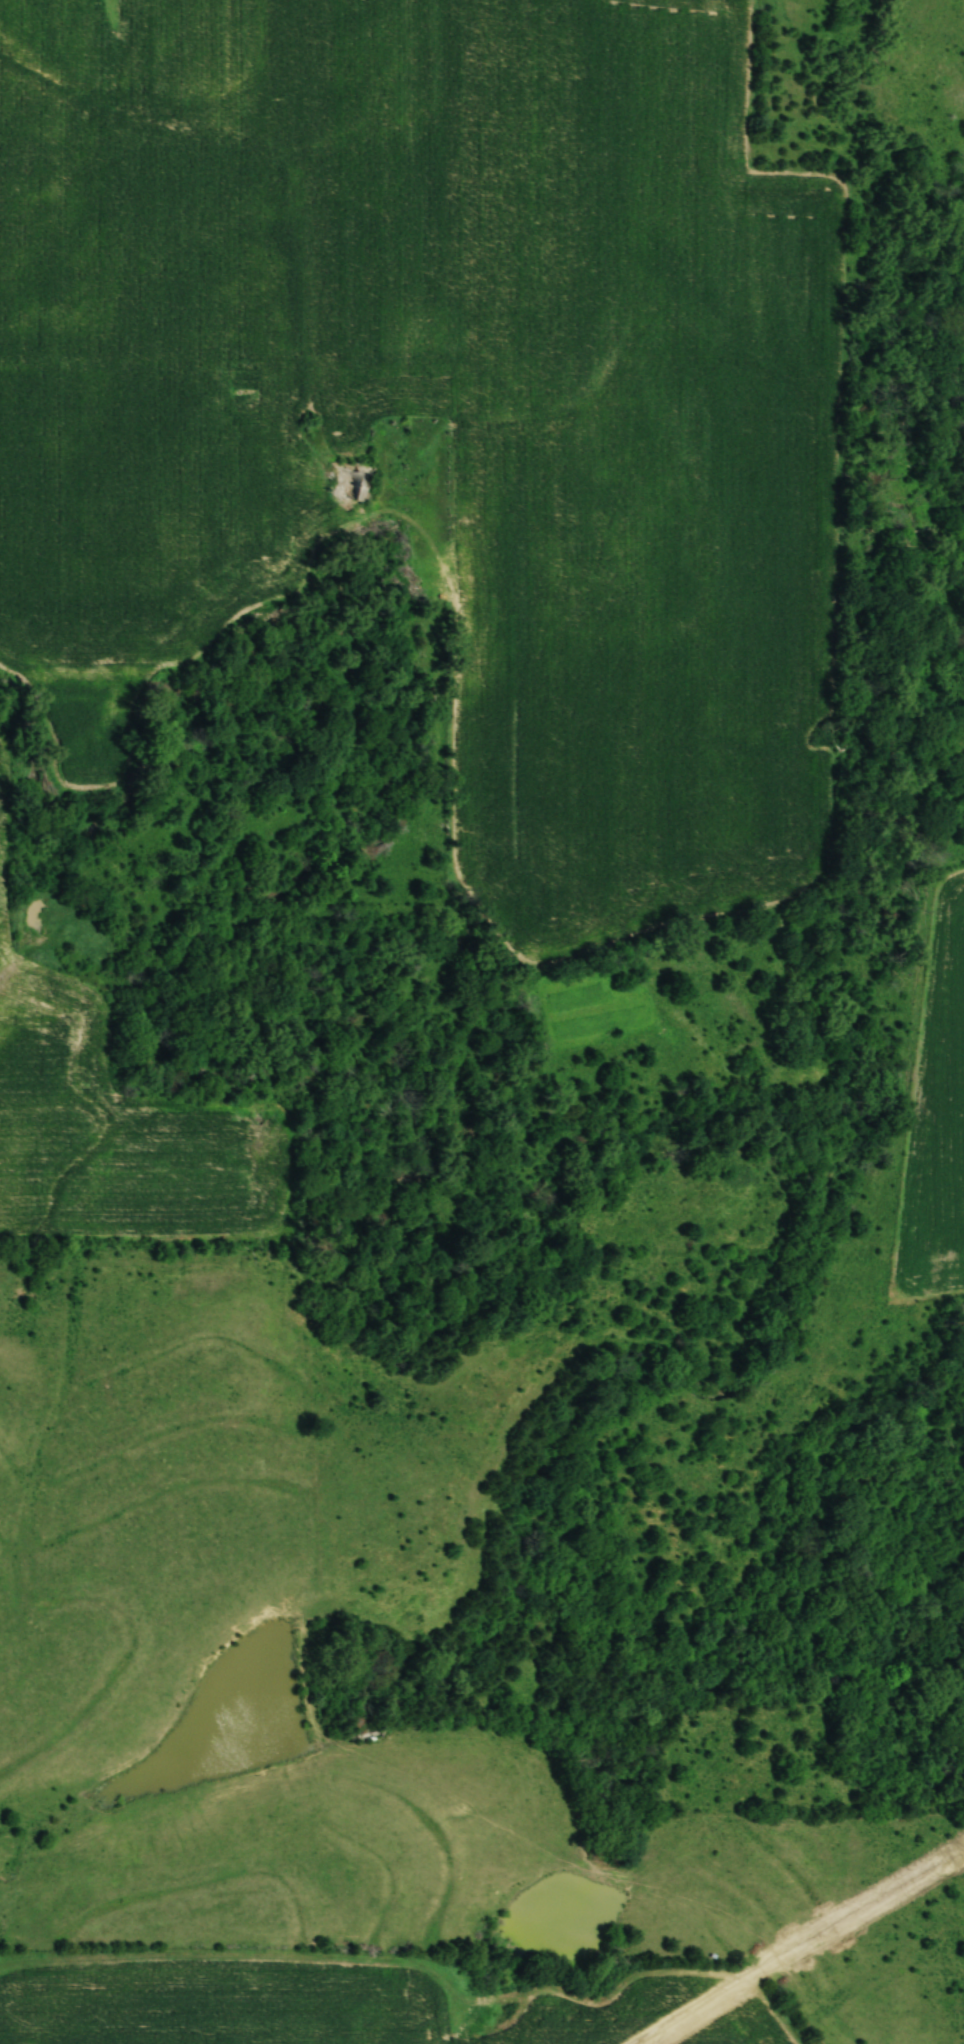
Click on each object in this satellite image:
building: (347, 477)

